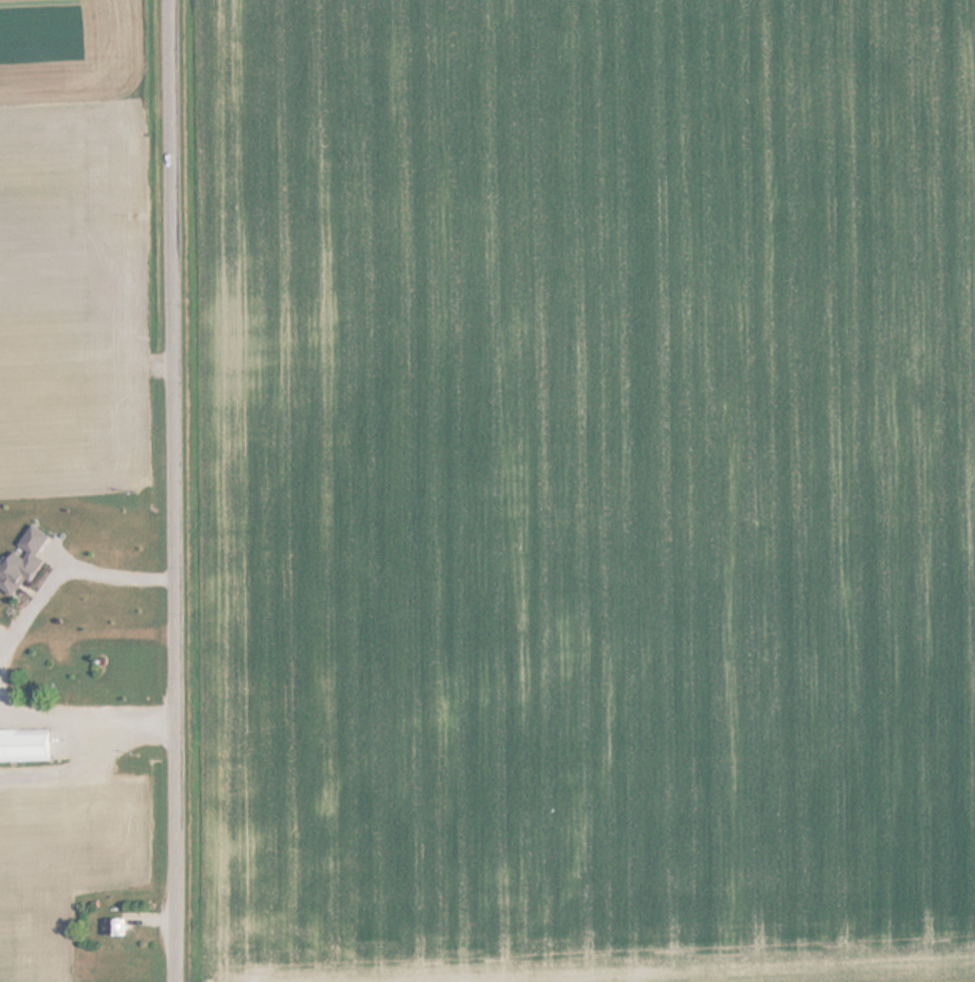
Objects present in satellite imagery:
road: (179, 491)
building: (27, 746)
building: (117, 926)

